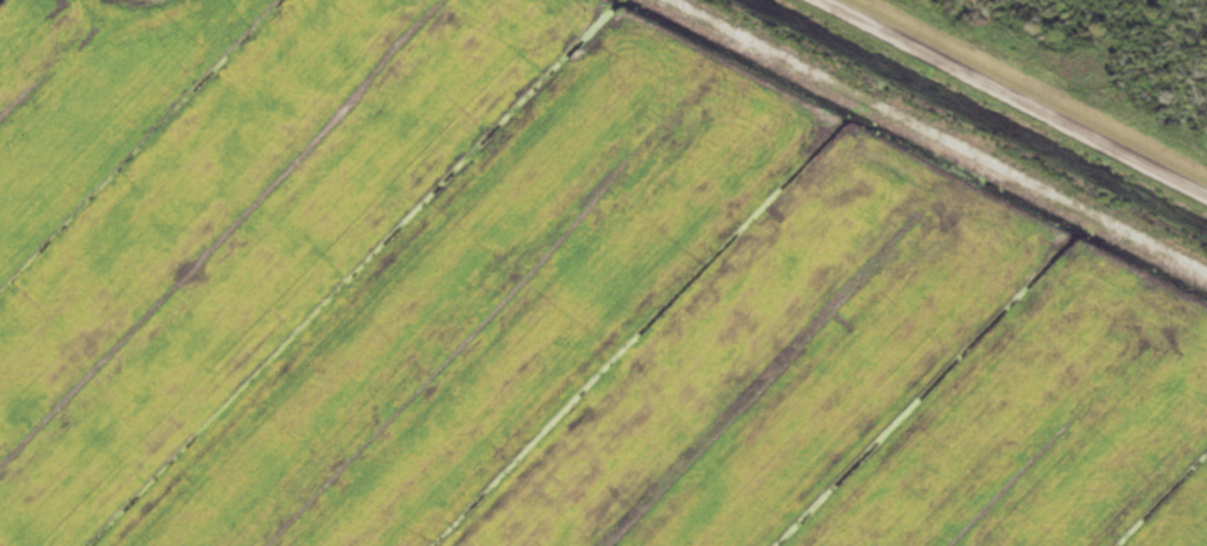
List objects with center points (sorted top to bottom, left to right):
road: (1009, 102)

